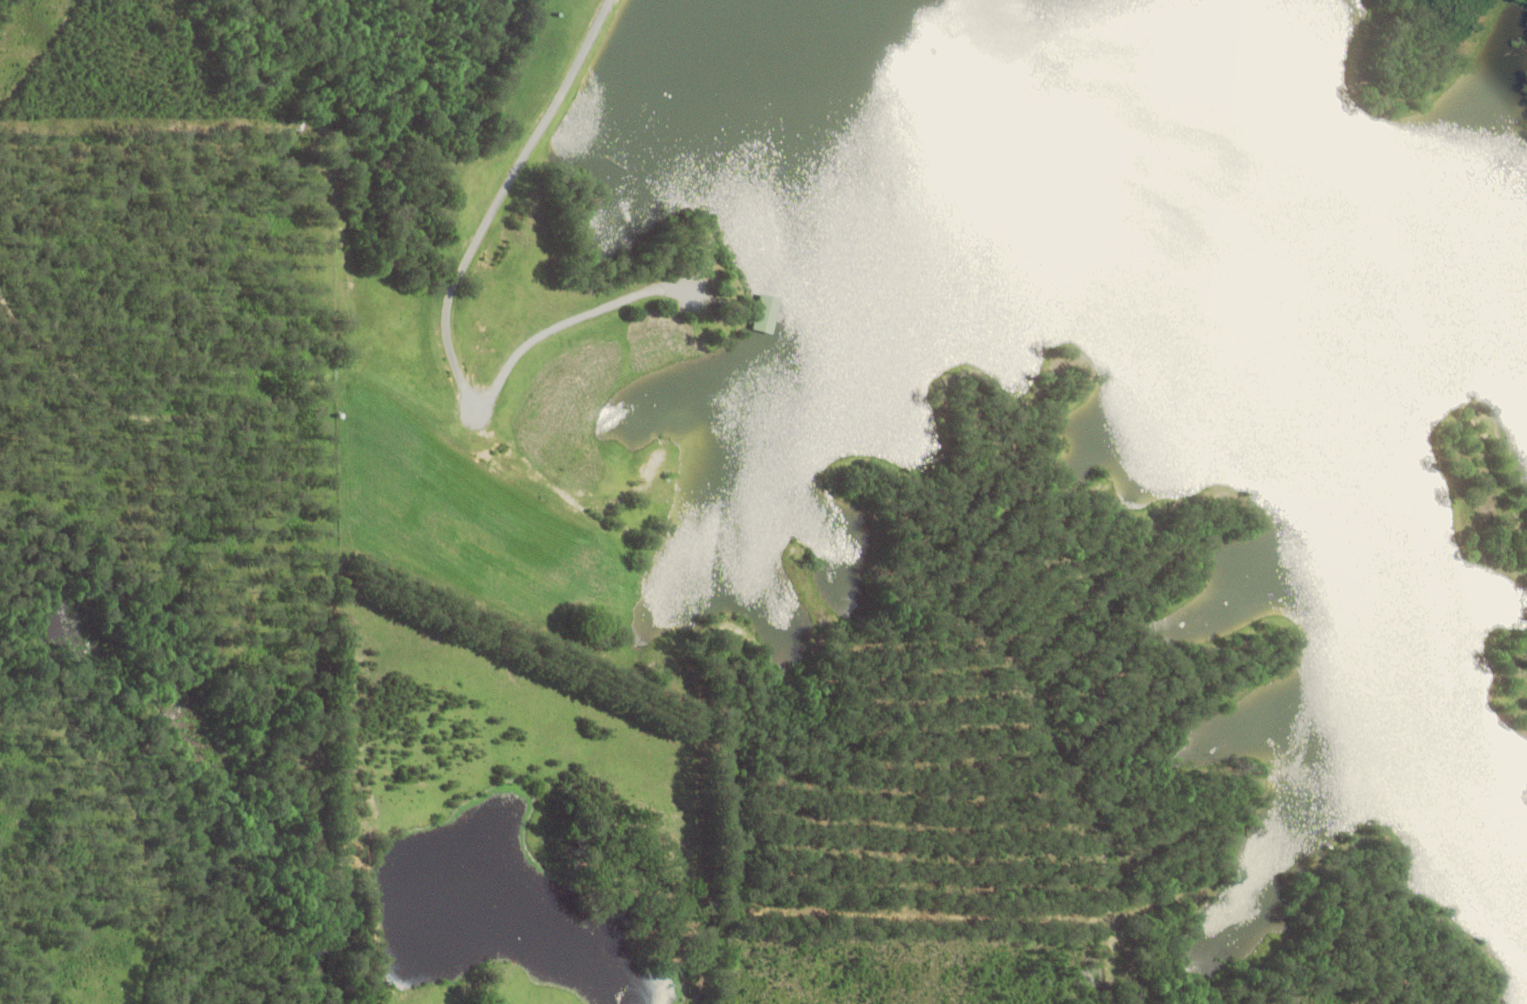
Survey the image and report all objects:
building: (761, 317)

